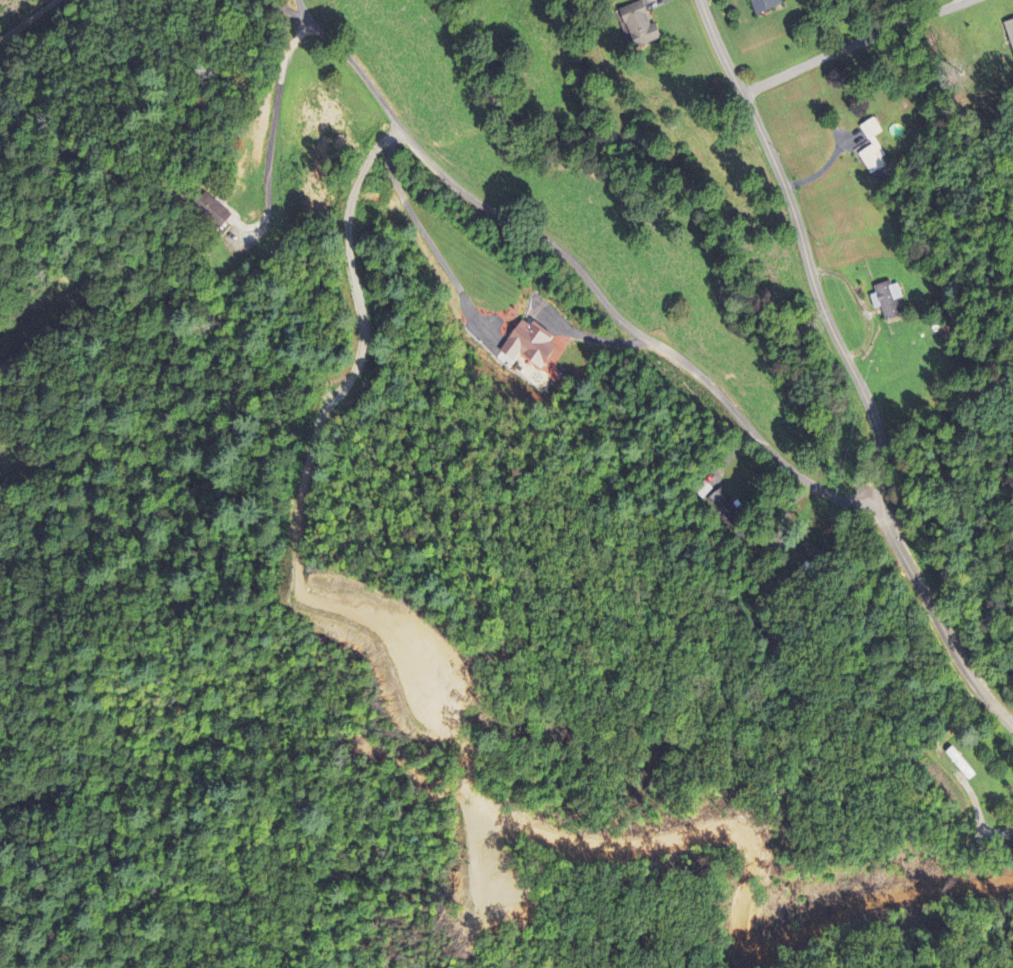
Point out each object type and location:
road: (48, 3)
building: (763, 6)
road: (294, 16)
road: (22, 18)
building: (639, 27)
building: (1010, 33)
road: (853, 43)
building: (872, 150)
building: (211, 212)
road: (803, 248)
road: (593, 287)
building: (886, 302)
building: (527, 347)
building: (726, 510)
road: (936, 620)
building: (959, 765)

